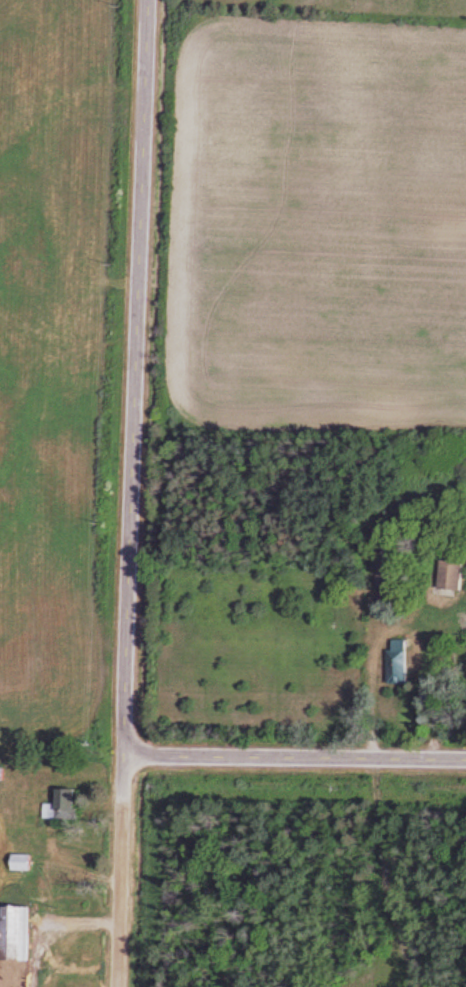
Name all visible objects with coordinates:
road: (137, 493)
building: (443, 575)
building: (392, 659)
road: (297, 759)
building: (50, 805)
building: (14, 860)
building: (11, 930)

